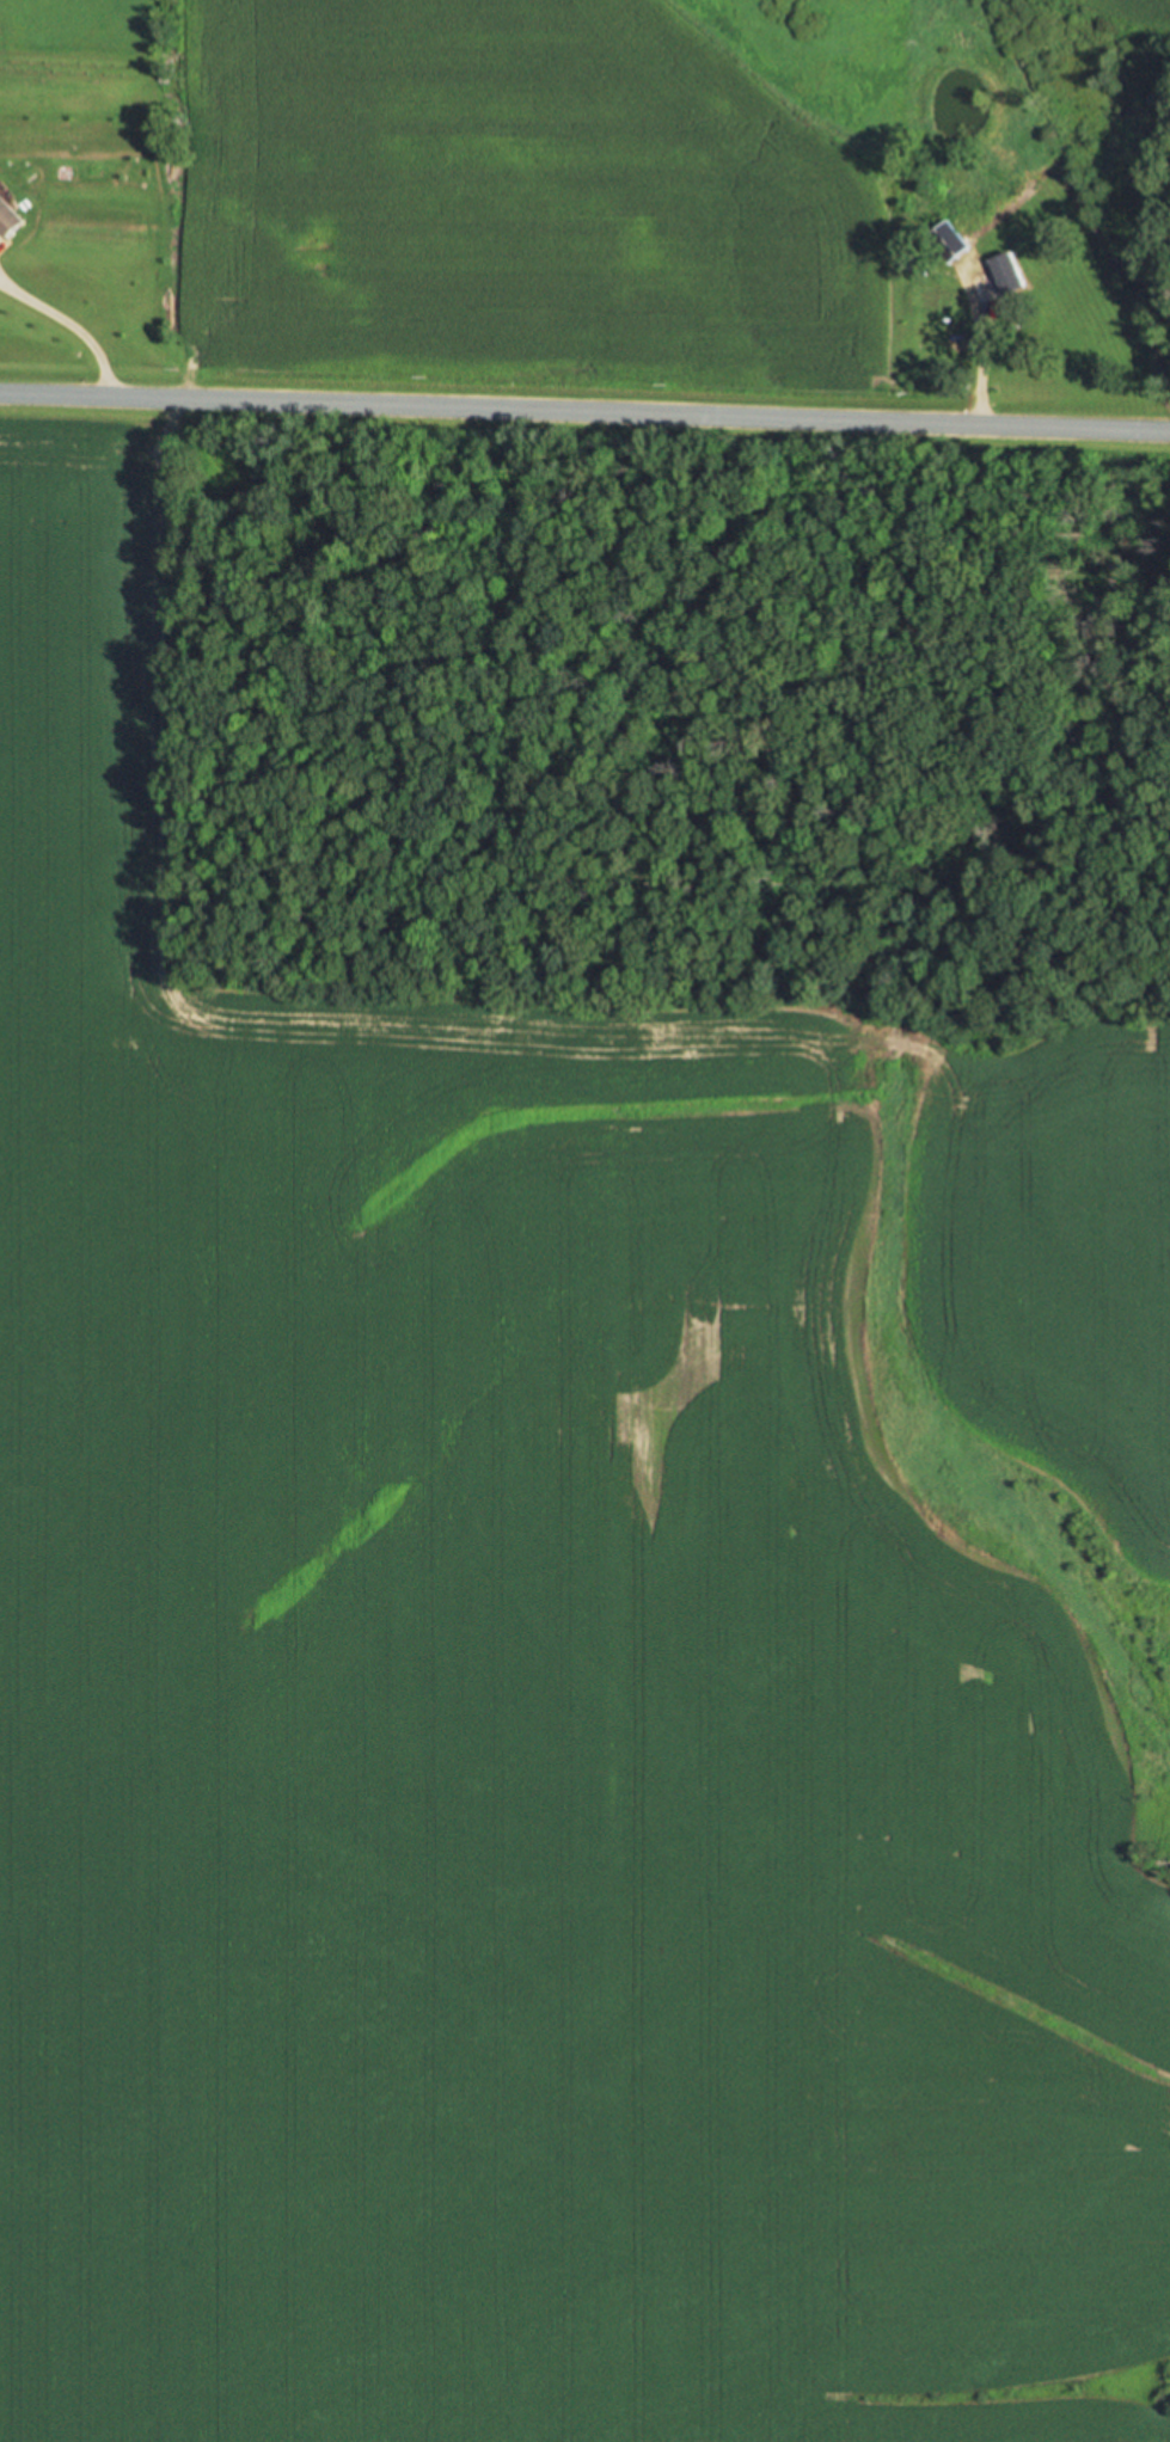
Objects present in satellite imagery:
building: (7, 220)
building: (948, 243)
building: (1006, 275)
road: (584, 427)

